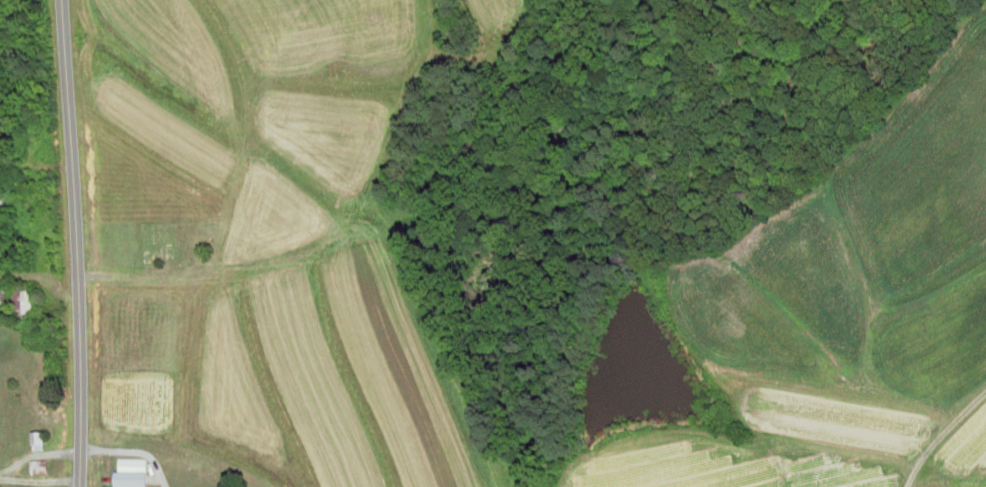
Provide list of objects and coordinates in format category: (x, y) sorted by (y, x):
building: (1, 199)
road: (77, 243)
building: (23, 302)
building: (109, 435)
building: (42, 439)
road: (134, 449)
road: (36, 453)
building: (197, 463)
building: (42, 465)
building: (136, 465)
building: (134, 478)
road: (40, 480)
building: (126, 486)

